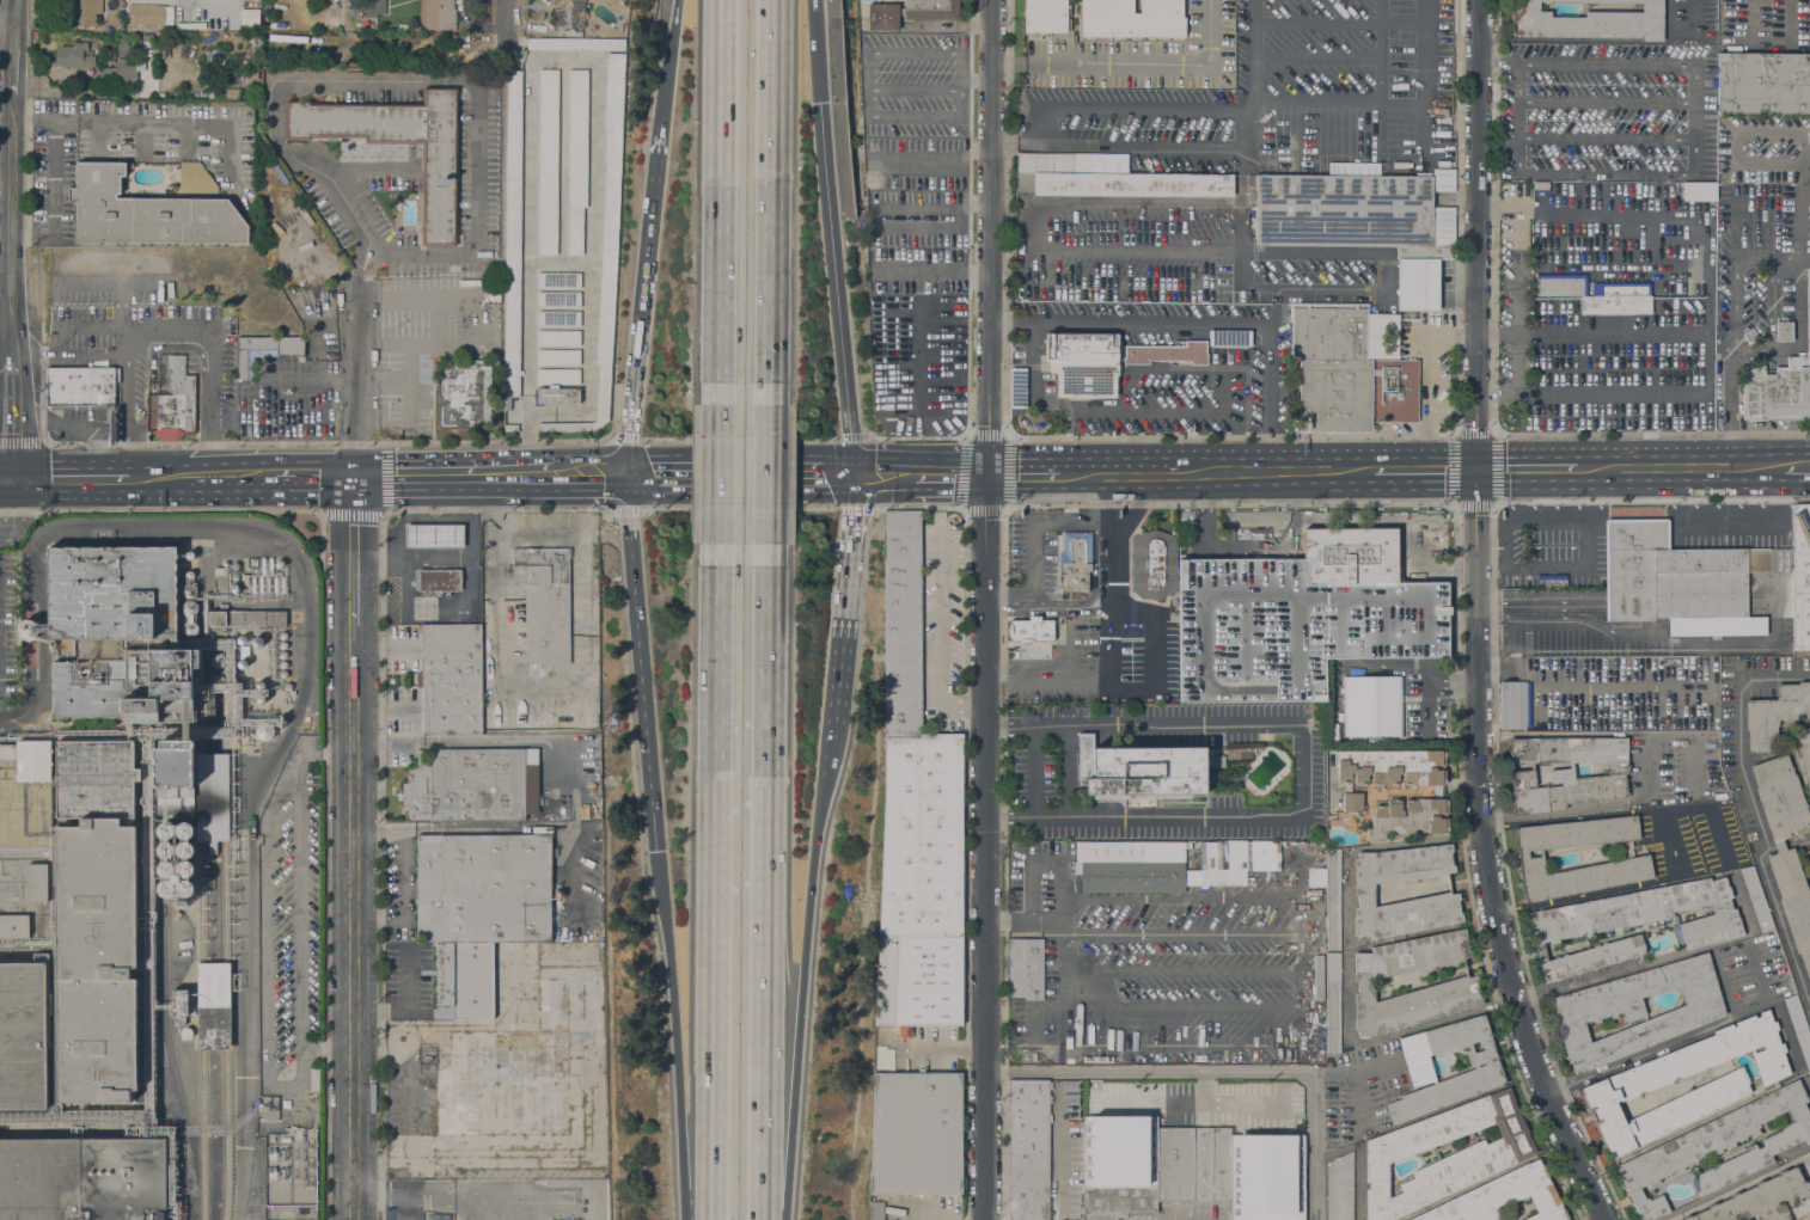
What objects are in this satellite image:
building: (251, 0)
building: (372, 6)
building: (84, 12)
building: (910, 12)
road: (14, 13)
building: (569, 13)
building: (146, 14)
building: (438, 14)
building: (1045, 16)
building: (253, 18)
building: (1132, 18)
road: (1282, 19)
building: (1588, 22)
building: (108, 24)
building: (190, 25)
road: (6, 27)
road: (505, 27)
building: (148, 37)
road: (1600, 41)
building: (576, 43)
road: (385, 49)
road: (811, 51)
building: (73, 56)
road: (12, 61)
road: (671, 62)
road: (1498, 62)
road: (1606, 63)
road: (1131, 65)
building: (120, 73)
road: (976, 79)
road: (867, 82)
building: (1762, 82)
road: (960, 84)
road: (473, 85)
road: (913, 90)
traffic signals: (814, 103)
road: (1518, 119)
road: (122, 122)
road: (1498, 146)
road: (980, 152)
building: (577, 158)
building: (548, 161)
road: (925, 163)
road: (1661, 174)
building: (195, 179)
building: (1108, 179)
road: (768, 190)
road: (721, 191)
building: (1698, 191)
road: (54, 195)
building: (439, 195)
road: (1803, 195)
building: (147, 213)
building: (1443, 219)
parking lot: (913, 221)
building: (1357, 223)
road: (12, 227)
building: (512, 235)
building: (606, 243)
road: (1772, 262)
road: (1592, 270)
road: (919, 272)
road: (977, 274)
building: (559, 280)
road: (110, 283)
road: (831, 288)
building: (1621, 288)
building: (1694, 288)
road: (355, 299)
building: (558, 299)
road: (646, 300)
building: (1615, 305)
road: (1732, 305)
road: (120, 308)
building: (558, 318)
road: (1769, 325)
road: (1201, 326)
road: (1624, 331)
building: (1784, 331)
building: (1750, 336)
building: (557, 337)
building: (1230, 337)
road: (918, 339)
building: (265, 350)
road: (210, 352)
building: (1167, 352)
road: (128, 355)
building: (557, 356)
building: (1338, 363)
building: (1083, 364)
road: (316, 376)
building: (558, 376)
building: (1779, 386)
building: (81, 387)
building: (1017, 387)
building: (1394, 391)
road: (1624, 393)
building: (464, 396)
building: (556, 397)
building: (190, 403)
building: (170, 406)
road: (1730, 409)
road: (13, 418)
building: (509, 427)
road: (623, 436)
road: (854, 436)
road: (918, 436)
road: (739, 437)
road: (22, 440)
road: (325, 445)
road: (1798, 466)
road: (1527, 468)
road: (1682, 468)
road: (1425, 470)
traffic signals: (1475, 470)
road: (1274, 471)
road: (720, 473)
road: (766, 473)
road: (1117, 473)
road: (739, 474)
traffic signals: (845, 474)
road: (881, 474)
road: (952, 474)
road: (1023, 474)
road: (232, 476)
road: (318, 476)
traffic signals: (351, 476)
road: (410, 476)
road: (482, 476)
road: (522, 476)
road: (592, 476)
traffic signals: (632, 476)
traffic signals: (987, 476)
road: (6, 477)
traffic signals: (13, 477)
road: (68, 477)
road: (152, 477)
road: (0, 499)
road: (918, 504)
road: (739, 508)
road: (1001, 508)
road: (160, 509)
road: (383, 509)
road: (494, 509)
road: (623, 509)
road: (856, 509)
road: (1135, 509)
road: (23, 514)
road: (353, 517)
road: (1070, 522)
building: (434, 535)
gas station: (434, 535)
building: (1352, 553)
building: (189, 554)
road: (439, 558)
road: (379, 560)
building: (1075, 562)
building: (279, 563)
road: (1032, 563)
building: (1154, 563)
building: (234, 571)
building: (189, 575)
building: (1800, 577)
building: (220, 580)
building: (439, 580)
building: (1551, 581)
building: (1683, 581)
road: (1109, 582)
road: (470, 586)
building: (234, 588)
road: (353, 589)
road: (836, 596)
road: (1076, 601)
building: (544, 602)
building: (189, 608)
road: (985, 609)
building: (245, 617)
building: (1386, 619)
road: (1475, 620)
building: (27, 629)
building: (189, 629)
road: (942, 629)
building: (1029, 629)
building: (1251, 631)
road: (1154, 633)
building: (282, 634)
building: (241, 639)
building: (283, 644)
building: (53, 645)
building: (240, 651)
building: (282, 655)
building: (218, 660)
building: (241, 663)
building: (283, 663)
road: (644, 664)
building: (133, 666)
building: (283, 674)
building: (451, 680)
building: (216, 681)
building: (259, 685)
building: (287, 686)
building: (259, 698)
building: (1510, 705)
building: (1774, 715)
building: (280, 721)
road: (1144, 723)
road: (824, 728)
building: (264, 730)
building: (140, 731)
road: (550, 738)
building: (1237, 754)
building: (1804, 754)
road: (821, 756)
road: (1651, 766)
building: (1143, 768)
road: (1303, 771)
building: (1565, 771)
road: (1069, 772)
road: (1033, 773)
building: (594, 775)
building: (471, 784)
building: (1352, 795)
building: (916, 815)
road: (1143, 819)
road: (1756, 819)
building: (50, 821)
road: (463, 827)
building: (165, 830)
building: (184, 830)
road: (1808, 839)
road: (1670, 841)
building: (212, 847)
building: (166, 850)
building: (184, 850)
building: (1809, 850)
traffic signals: (660, 853)
building: (1809, 859)
road: (1046, 860)
building: (1131, 866)
building: (1618, 866)
building: (165, 869)
building: (184, 869)
building: (1191, 872)
road: (717, 876)
road: (812, 877)
building: (1787, 877)
building: (166, 888)
building: (184, 888)
building: (483, 888)
building: (1364, 891)
road: (764, 893)
road: (405, 900)
building: (1333, 900)
building: (1756, 900)
road: (1305, 913)
road: (353, 919)
building: (1633, 922)
building: (97, 961)
building: (1025, 968)
building: (464, 979)
road: (671, 981)
building: (1459, 982)
building: (1809, 993)
building: (570, 998)
building: (1333, 1004)
building: (182, 1005)
building: (213, 1005)
road: (409, 1005)
road: (1246, 1009)
building: (1635, 1010)
building: (1798, 1026)
building: (185, 1032)
building: (23, 1036)
road: (1683, 1037)
road: (1223, 1073)
building: (1479, 1075)
building: (314, 1079)
building: (1625, 1085)
building: (509, 1091)
railway: (202, 1093)
railway: (226, 1093)
road: (794, 1101)
building: (269, 1108)
building: (916, 1133)
building: (285, 1139)
building: (1717, 1148)
road: (697, 1150)
building: (1028, 1150)
building: (1485, 1157)
building: (1120, 1164)
building: (1193, 1164)
power substation: (289, 1170)
building: (1266, 1177)
building: (82, 1178)
road: (1744, 1184)
building: (1340, 1188)
building: (1503, 1197)
building: (1763, 1201)
road: (714, 1203)
building: (875, 1210)
building: (296, 1214)

